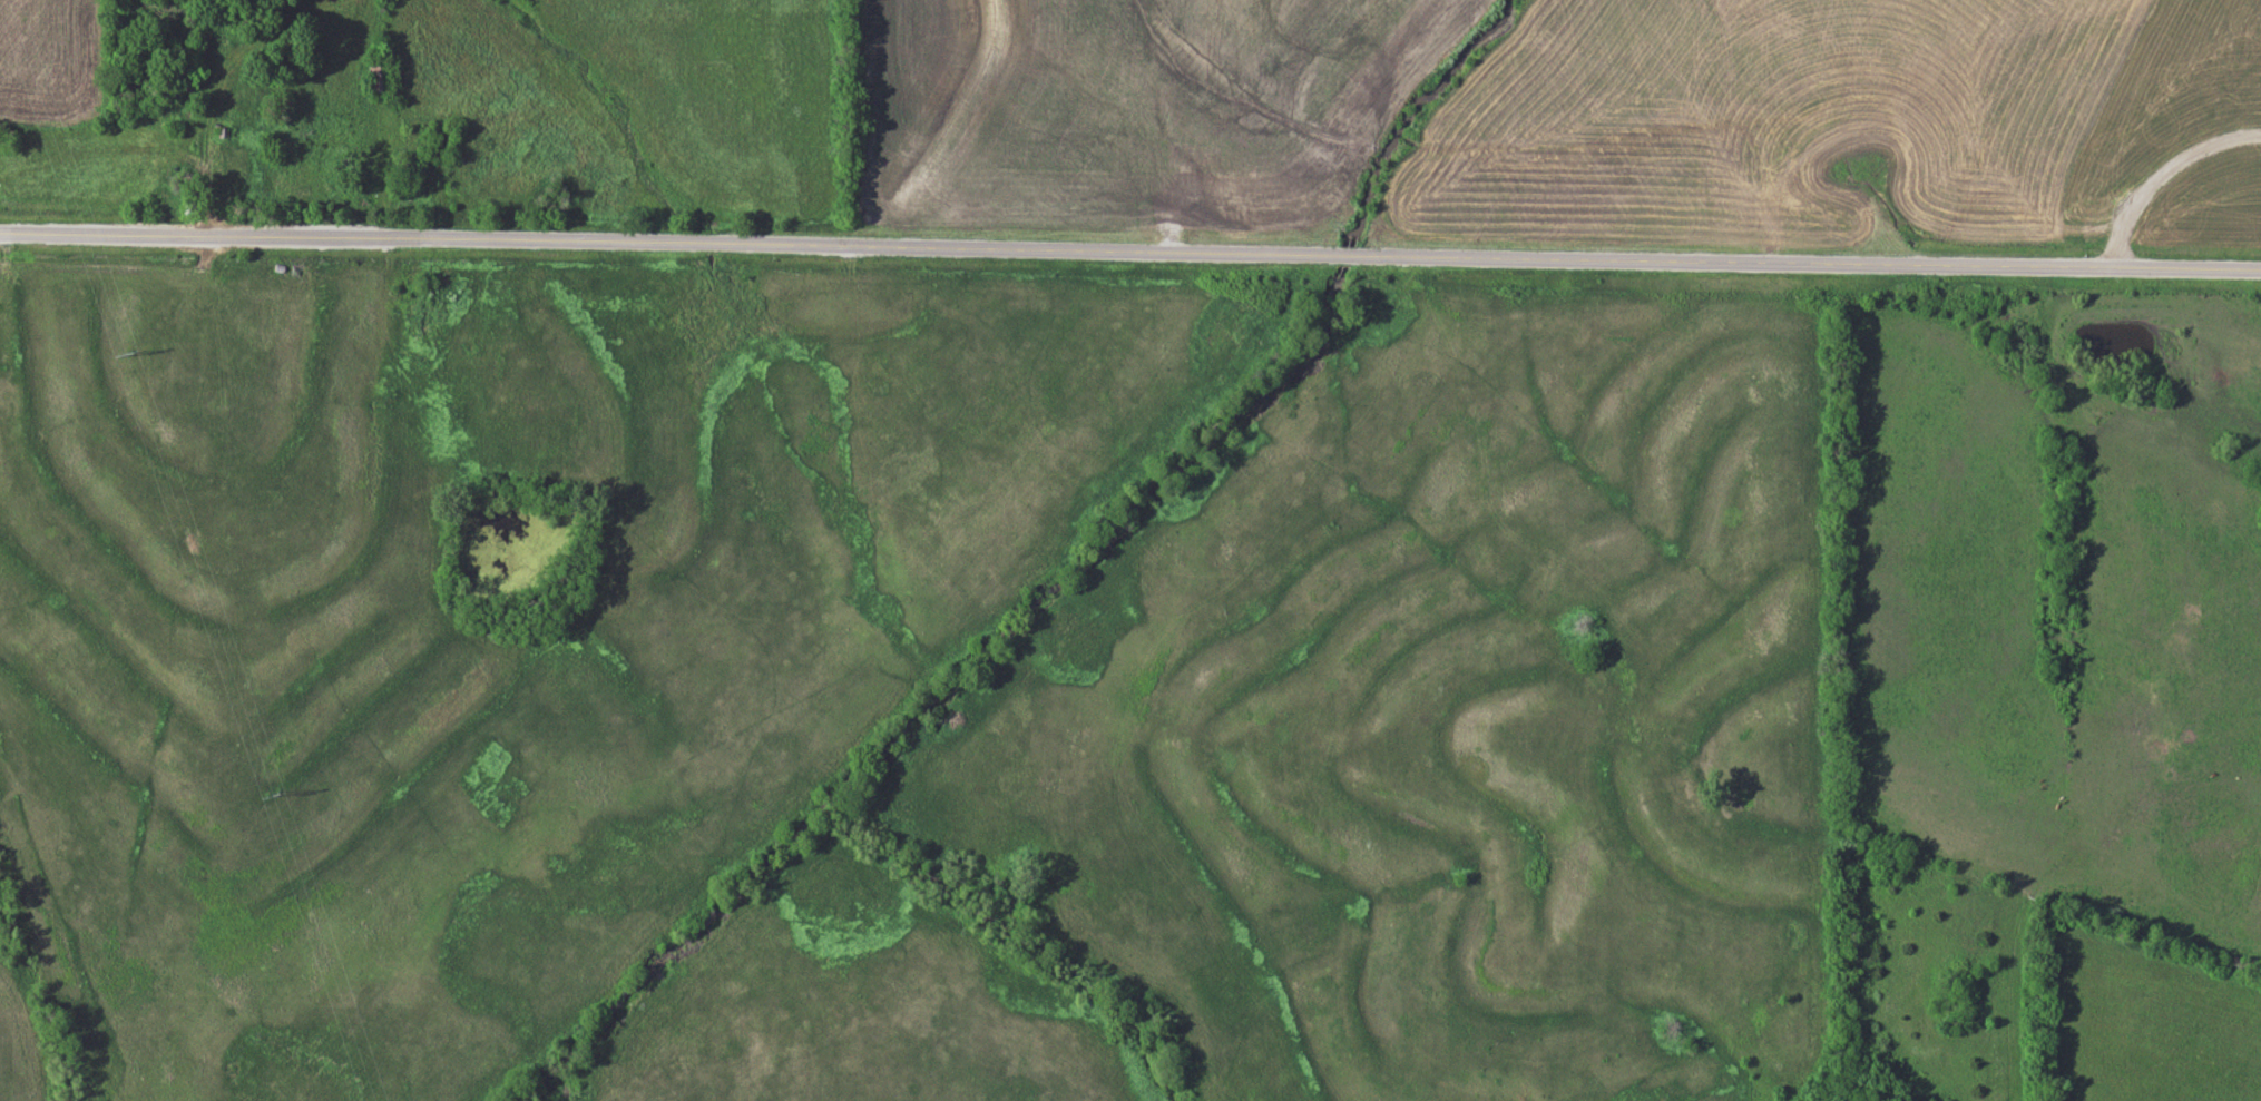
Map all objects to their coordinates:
road: (2169, 179)
road: (1130, 245)

